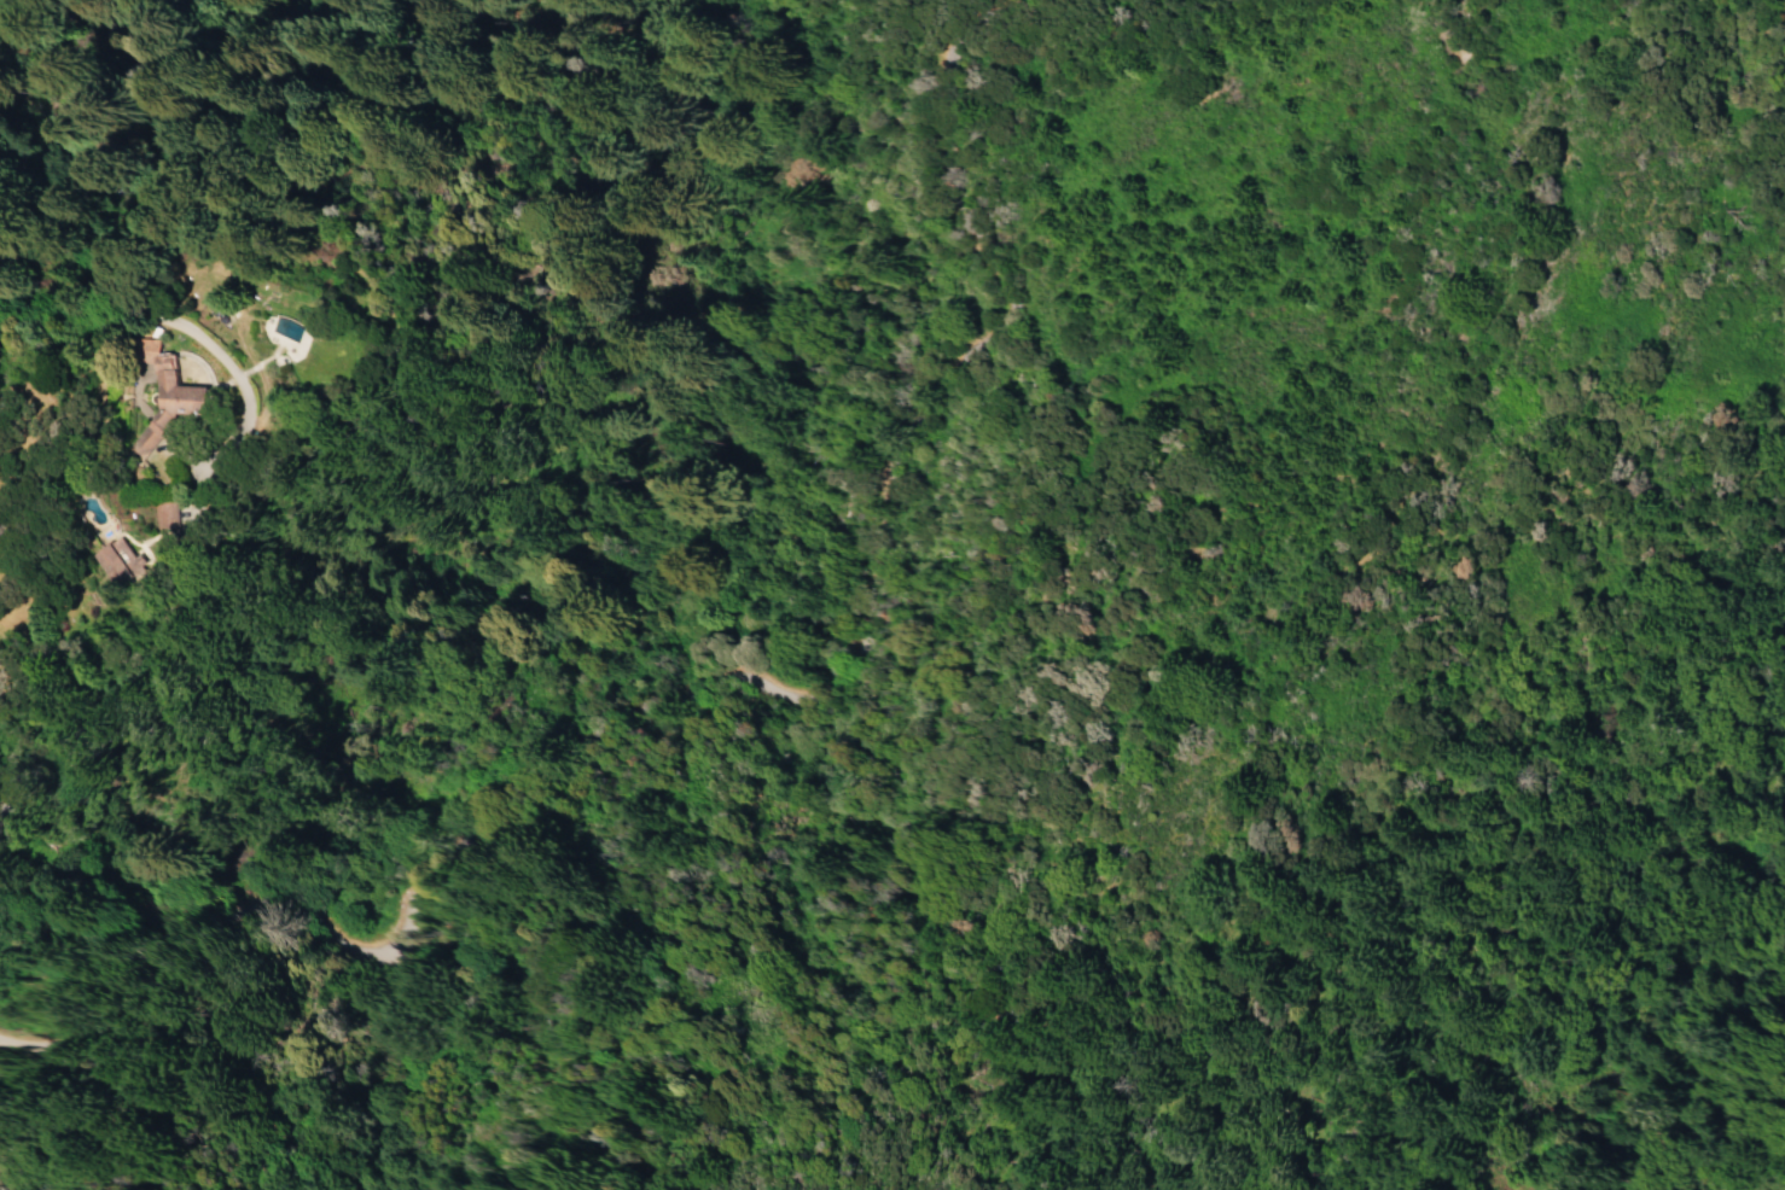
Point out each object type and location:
building: (168, 393)
building: (164, 514)
building: (121, 565)

